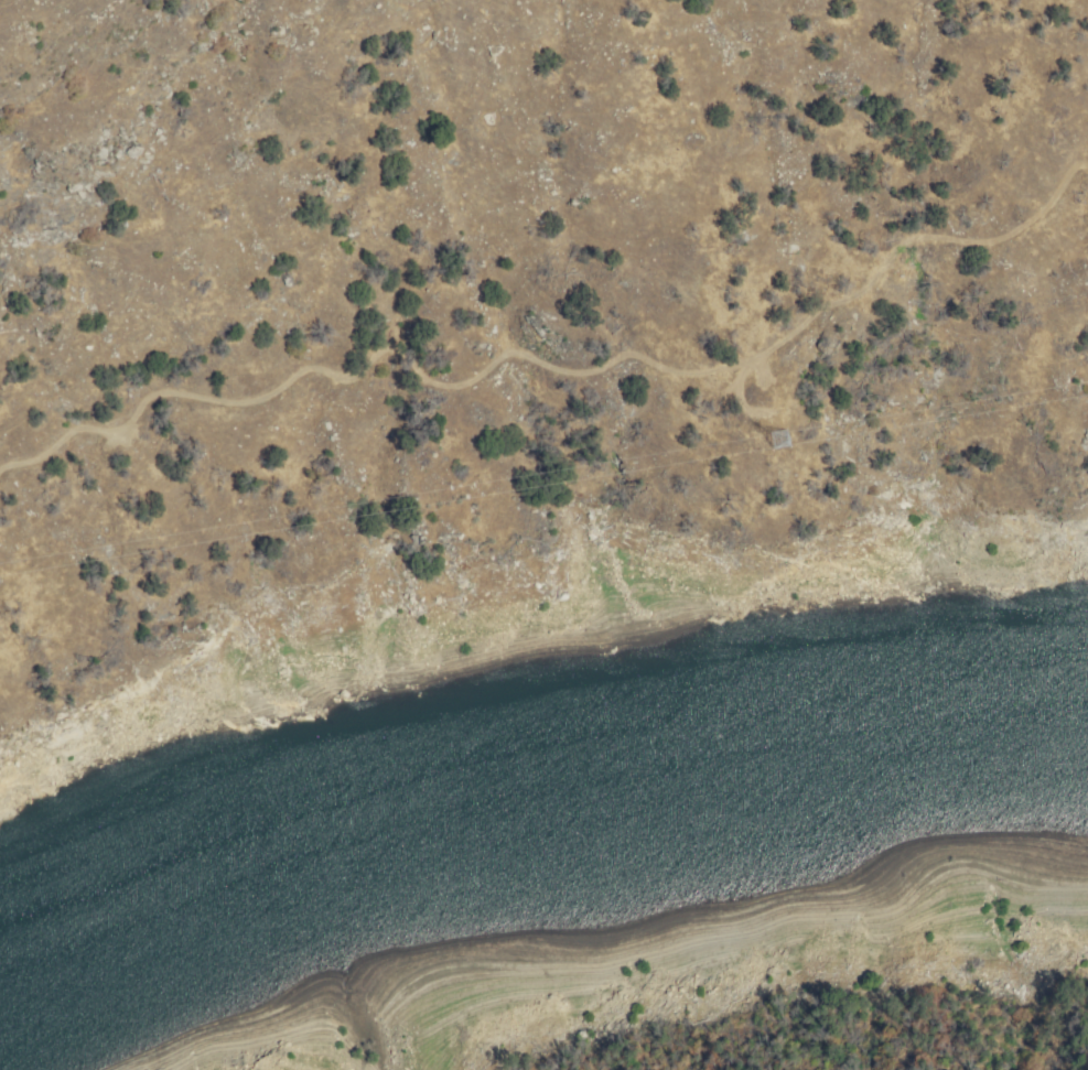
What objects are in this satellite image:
power tower: (772, 440)
river: (1003, 824)
river: (897, 828)
river: (760, 846)
river: (354, 882)
river: (528, 901)
river: (150, 956)

